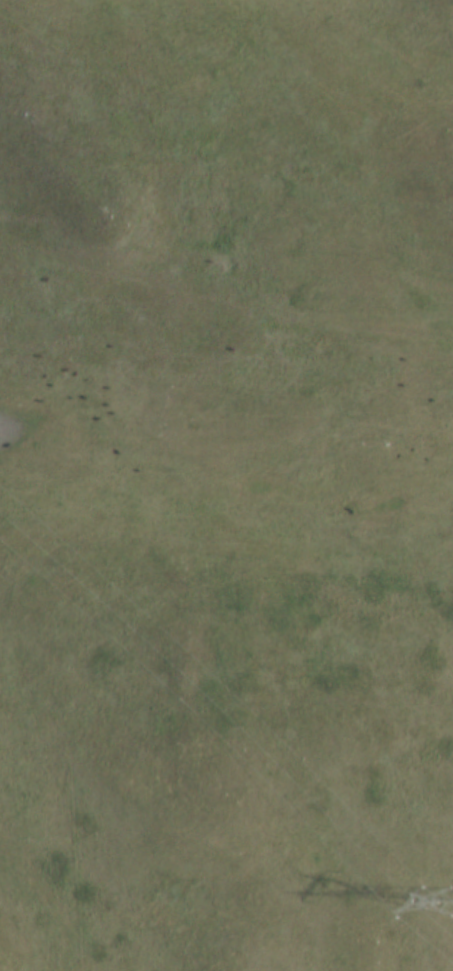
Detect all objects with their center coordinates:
power tower: (450, 906)

